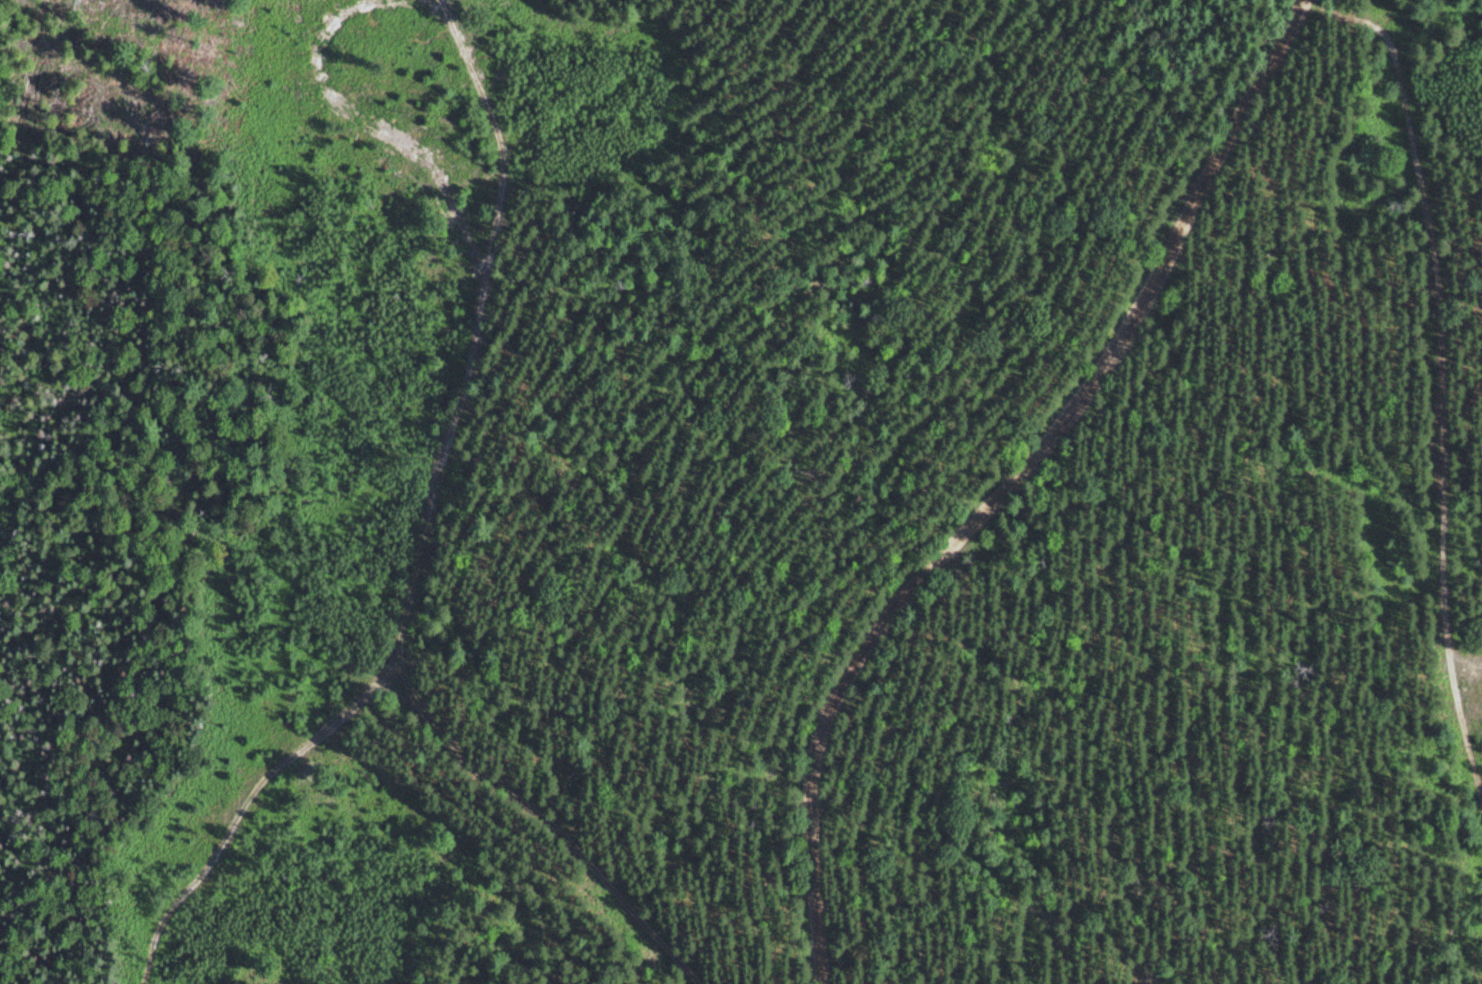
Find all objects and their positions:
road: (463, 321)
road: (1439, 392)
road: (1011, 492)
road: (241, 799)
road: (551, 813)

